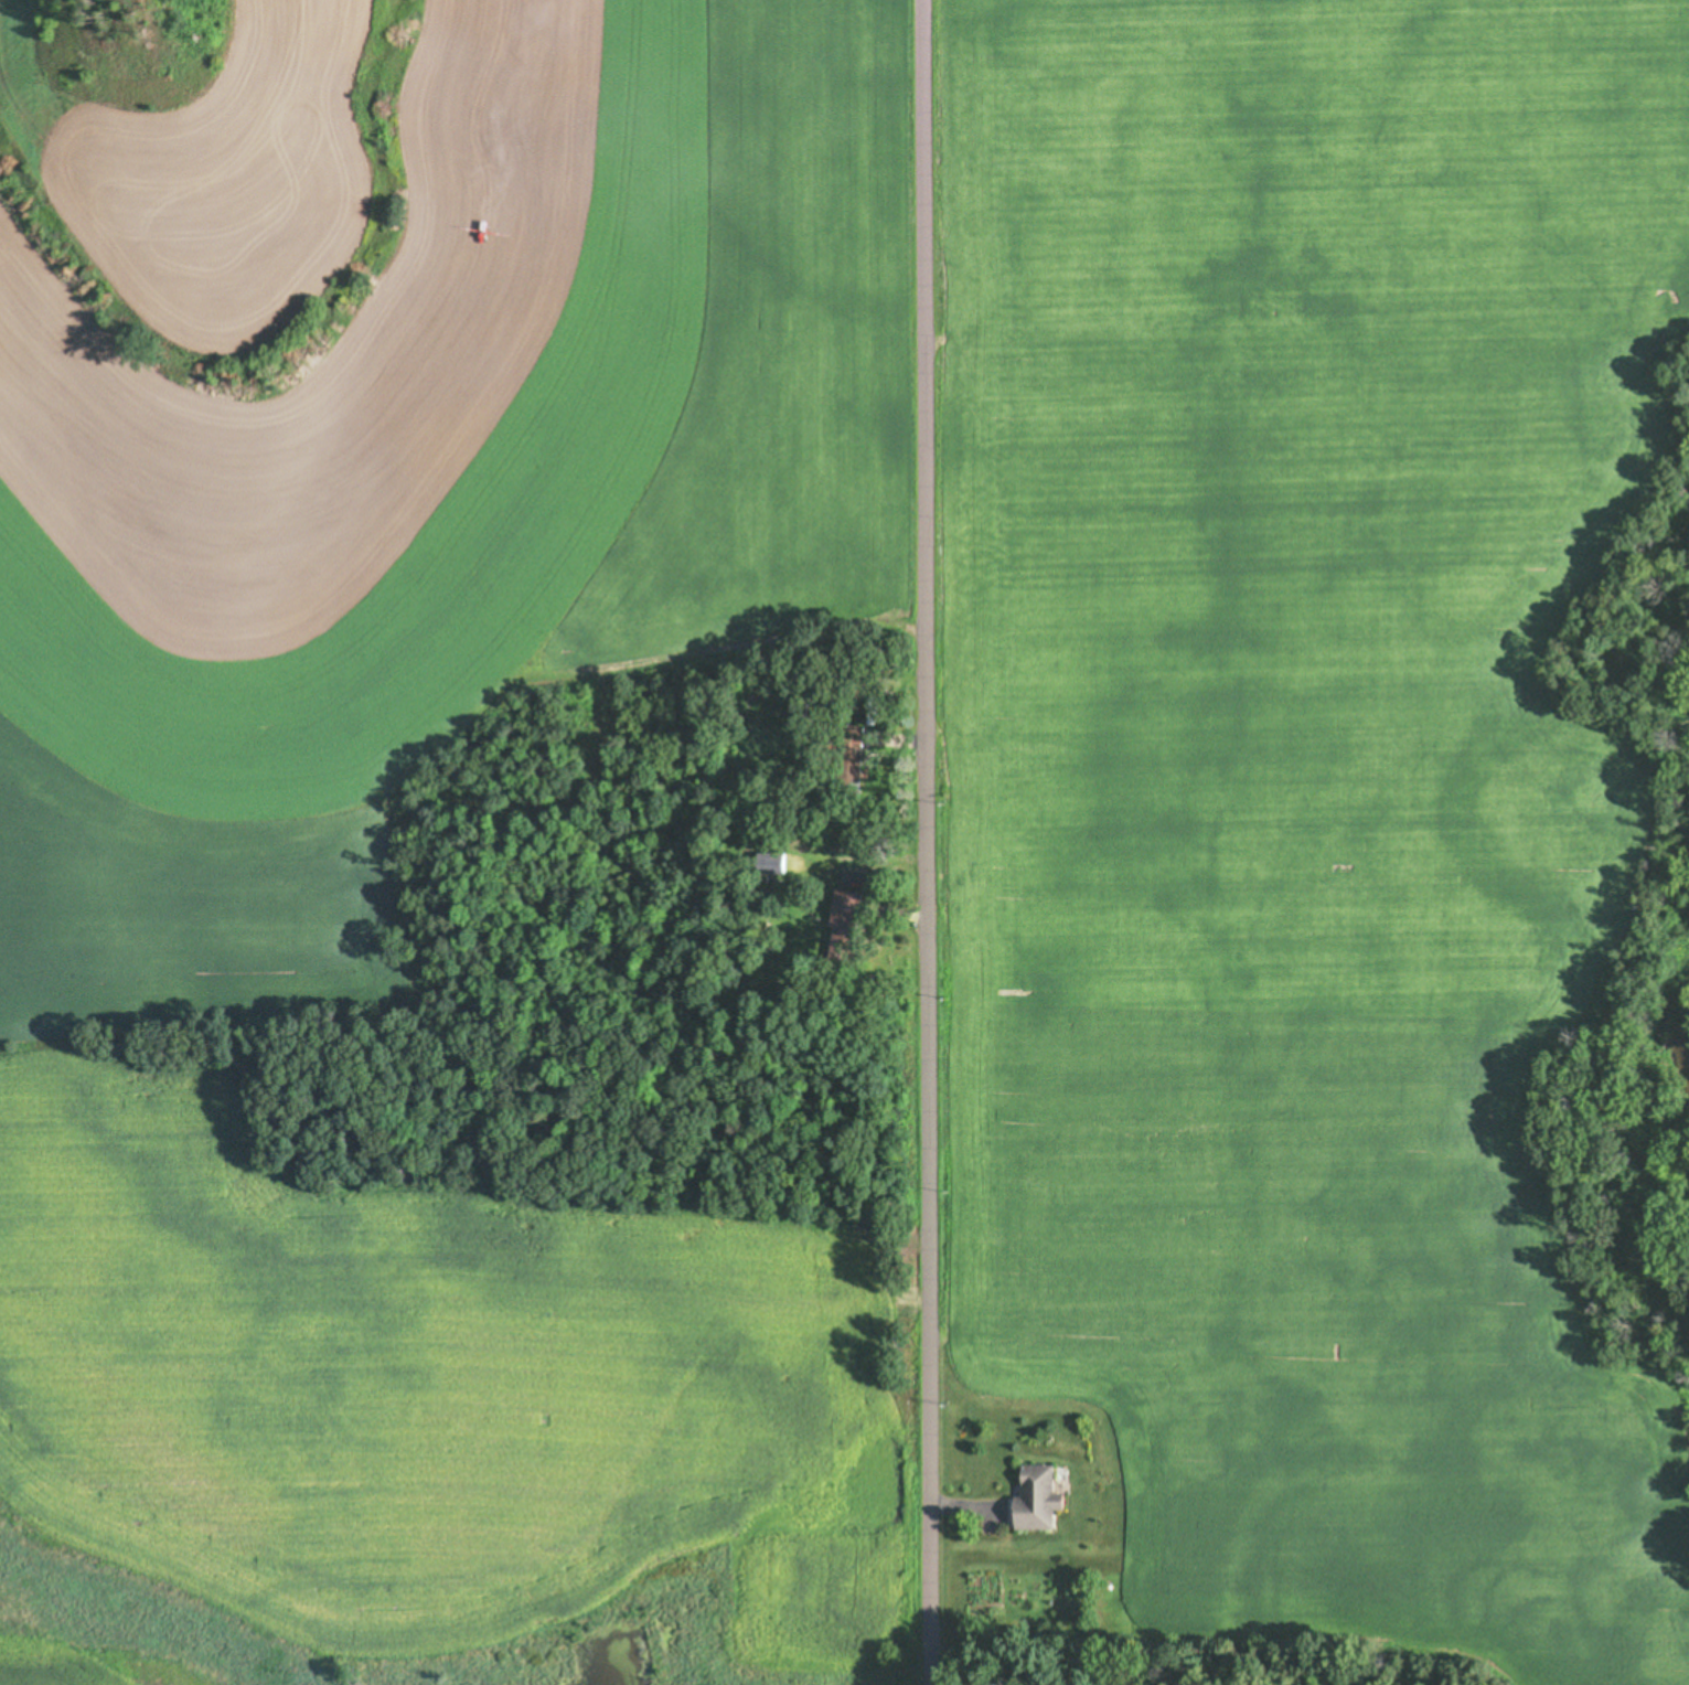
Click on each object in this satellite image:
building: (803, 707)
crop: (416, 777)
crop: (1300, 786)
road: (926, 842)
building: (1044, 1497)
crop: (53, 1666)

